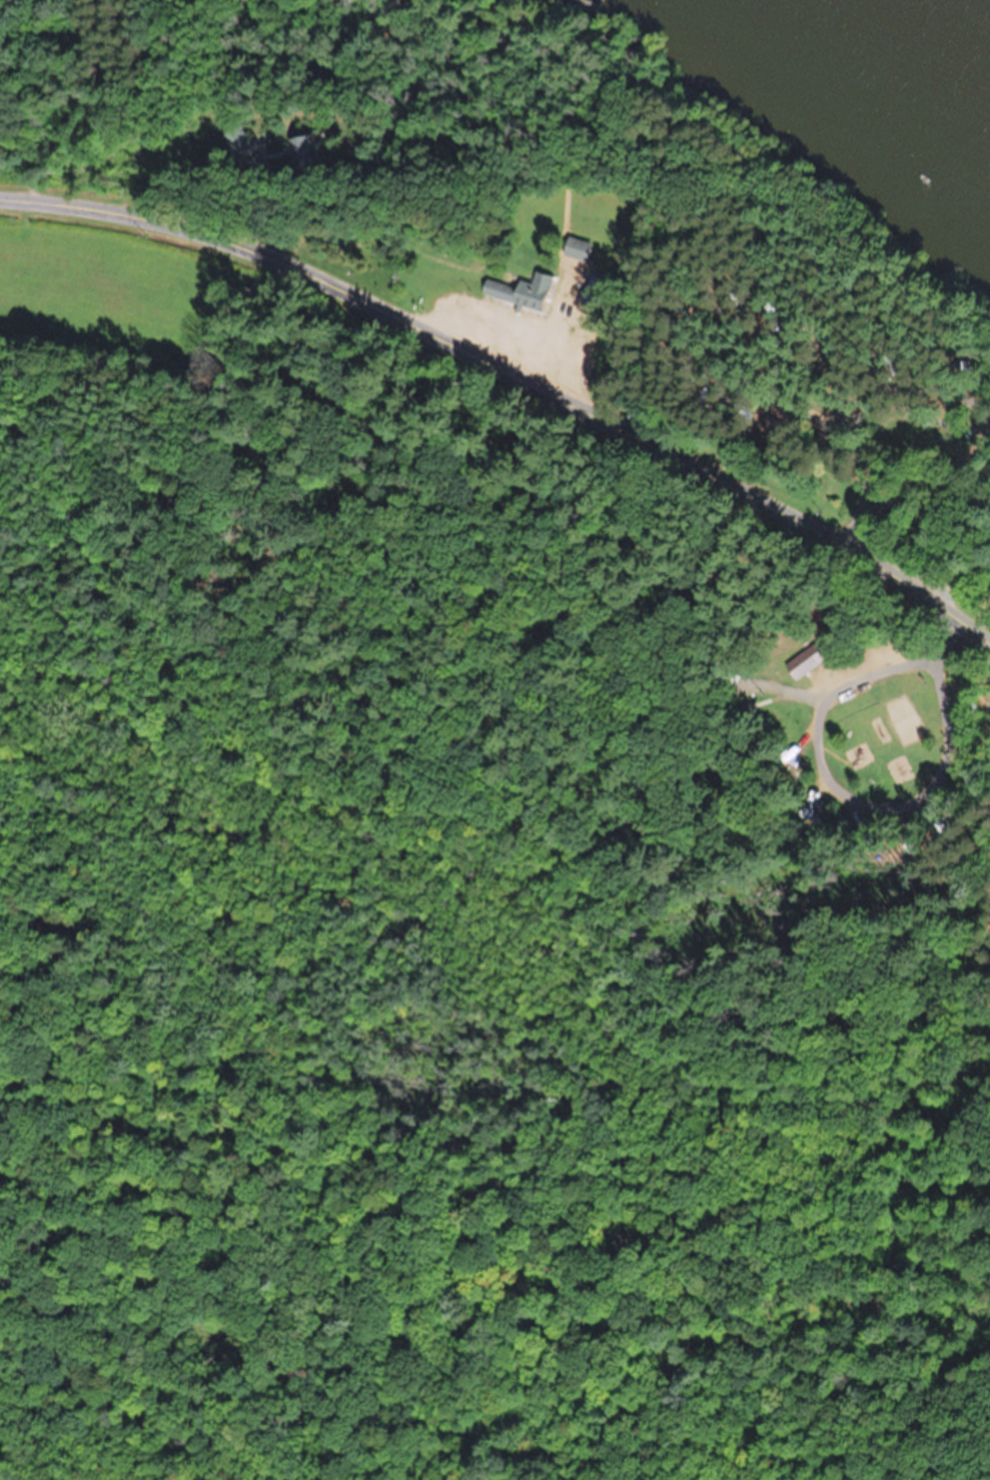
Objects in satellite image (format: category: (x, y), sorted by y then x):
road: (53, 96)
building: (309, 151)
building: (575, 248)
building: (590, 289)
building: (519, 291)
road: (518, 359)
building: (773, 427)
building: (889, 428)
road: (971, 442)
park: (684, 487)
road: (892, 492)
building: (807, 658)
building: (816, 810)

